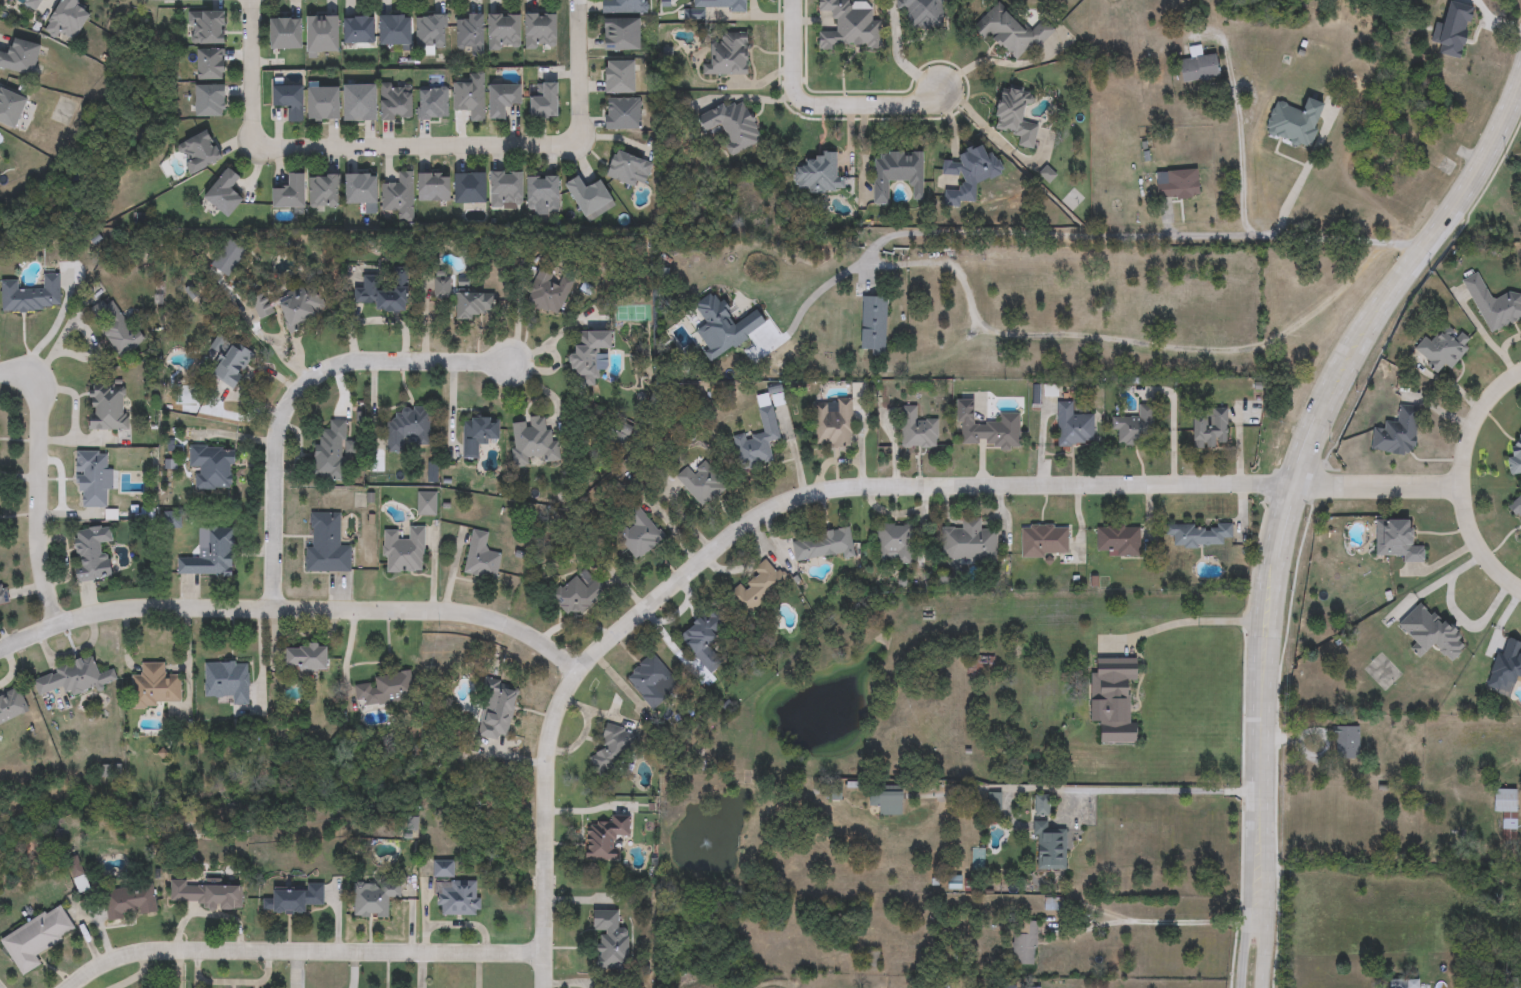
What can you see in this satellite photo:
building: (33, 3)
building: (721, 5)
building: (69, 19)
building: (624, 24)
building: (850, 26)
building: (208, 27)
building: (360, 30)
building: (396, 30)
building: (431, 31)
building: (506, 31)
building: (542, 31)
building: (1013, 31)
building: (287, 33)
building: (472, 33)
building: (323, 34)
building: (729, 55)
road: (896, 55)
building: (21, 57)
road: (1002, 62)
building: (213, 64)
building: (1201, 69)
road: (251, 71)
road: (577, 74)
building: (622, 77)
building: (471, 99)
building: (505, 99)
building: (546, 100)
building: (212, 101)
building: (290, 101)
building: (398, 102)
building: (361, 103)
building: (434, 103)
building: (324, 104)
road: (819, 104)
building: (12, 107)
building: (623, 113)
building: (1017, 116)
building: (1296, 122)
road: (952, 123)
building: (734, 126)
road: (1238, 126)
road: (988, 128)
road: (410, 147)
building: (201, 152)
building: (0, 154)
building: (629, 169)
road: (1301, 172)
building: (898, 173)
building: (819, 174)
building: (969, 175)
building: (1180, 184)
building: (434, 187)
building: (471, 188)
building: (362, 189)
building: (507, 190)
building: (324, 191)
building: (226, 193)
building: (291, 193)
building: (399, 194)
building: (544, 194)
building: (590, 195)
road: (1071, 235)
building: (444, 285)
building: (385, 291)
building: (549, 292)
building: (32, 295)
building: (1493, 303)
building: (477, 304)
building: (301, 308)
building: (115, 327)
road: (1123, 341)
building: (1441, 344)
building: (591, 352)
building: (234, 365)
road: (302, 392)
building: (108, 406)
road: (1309, 410)
building: (833, 424)
building: (1075, 426)
building: (1136, 427)
road: (1475, 427)
building: (407, 428)
building: (987, 428)
building: (1212, 429)
building: (918, 430)
building: (1396, 431)
building: (479, 434)
building: (533, 441)
building: (758, 442)
building: (1514, 450)
building: (331, 451)
building: (213, 468)
building: (93, 480)
building: (703, 483)
road: (40, 486)
road: (1376, 490)
building: (1515, 506)
road: (748, 527)
building: (640, 533)
building: (1201, 534)
building: (1395, 538)
building: (969, 541)
building: (1045, 541)
building: (1119, 541)
building: (896, 544)
building: (326, 545)
building: (823, 545)
road: (1484, 545)
building: (404, 551)
building: (93, 553)
building: (211, 555)
building: (481, 557)
building: (758, 588)
building: (579, 594)
building: (3, 596)
road: (293, 608)
road: (1184, 621)
building: (1429, 629)
building: (705, 639)
building: (307, 658)
building: (1505, 662)
building: (981, 666)
building: (74, 678)
building: (651, 680)
building: (228, 681)
building: (155, 687)
building: (384, 690)
building: (1050, 692)
building: (1116, 704)
building: (11, 706)
building: (498, 713)
building: (1345, 744)
building: (614, 754)
road: (1159, 790)
building: (888, 800)
building: (994, 802)
building: (1506, 815)
building: (606, 839)
building: (1050, 840)
road: (1245, 887)
road: (1268, 887)
building: (208, 895)
building: (458, 898)
building: (292, 899)
building: (372, 901)
building: (130, 903)
road: (1155, 923)
building: (37, 939)
building: (612, 941)
building: (1024, 943)
road: (301, 951)
building: (872, 960)
building: (1509, 983)
building: (1403, 984)

